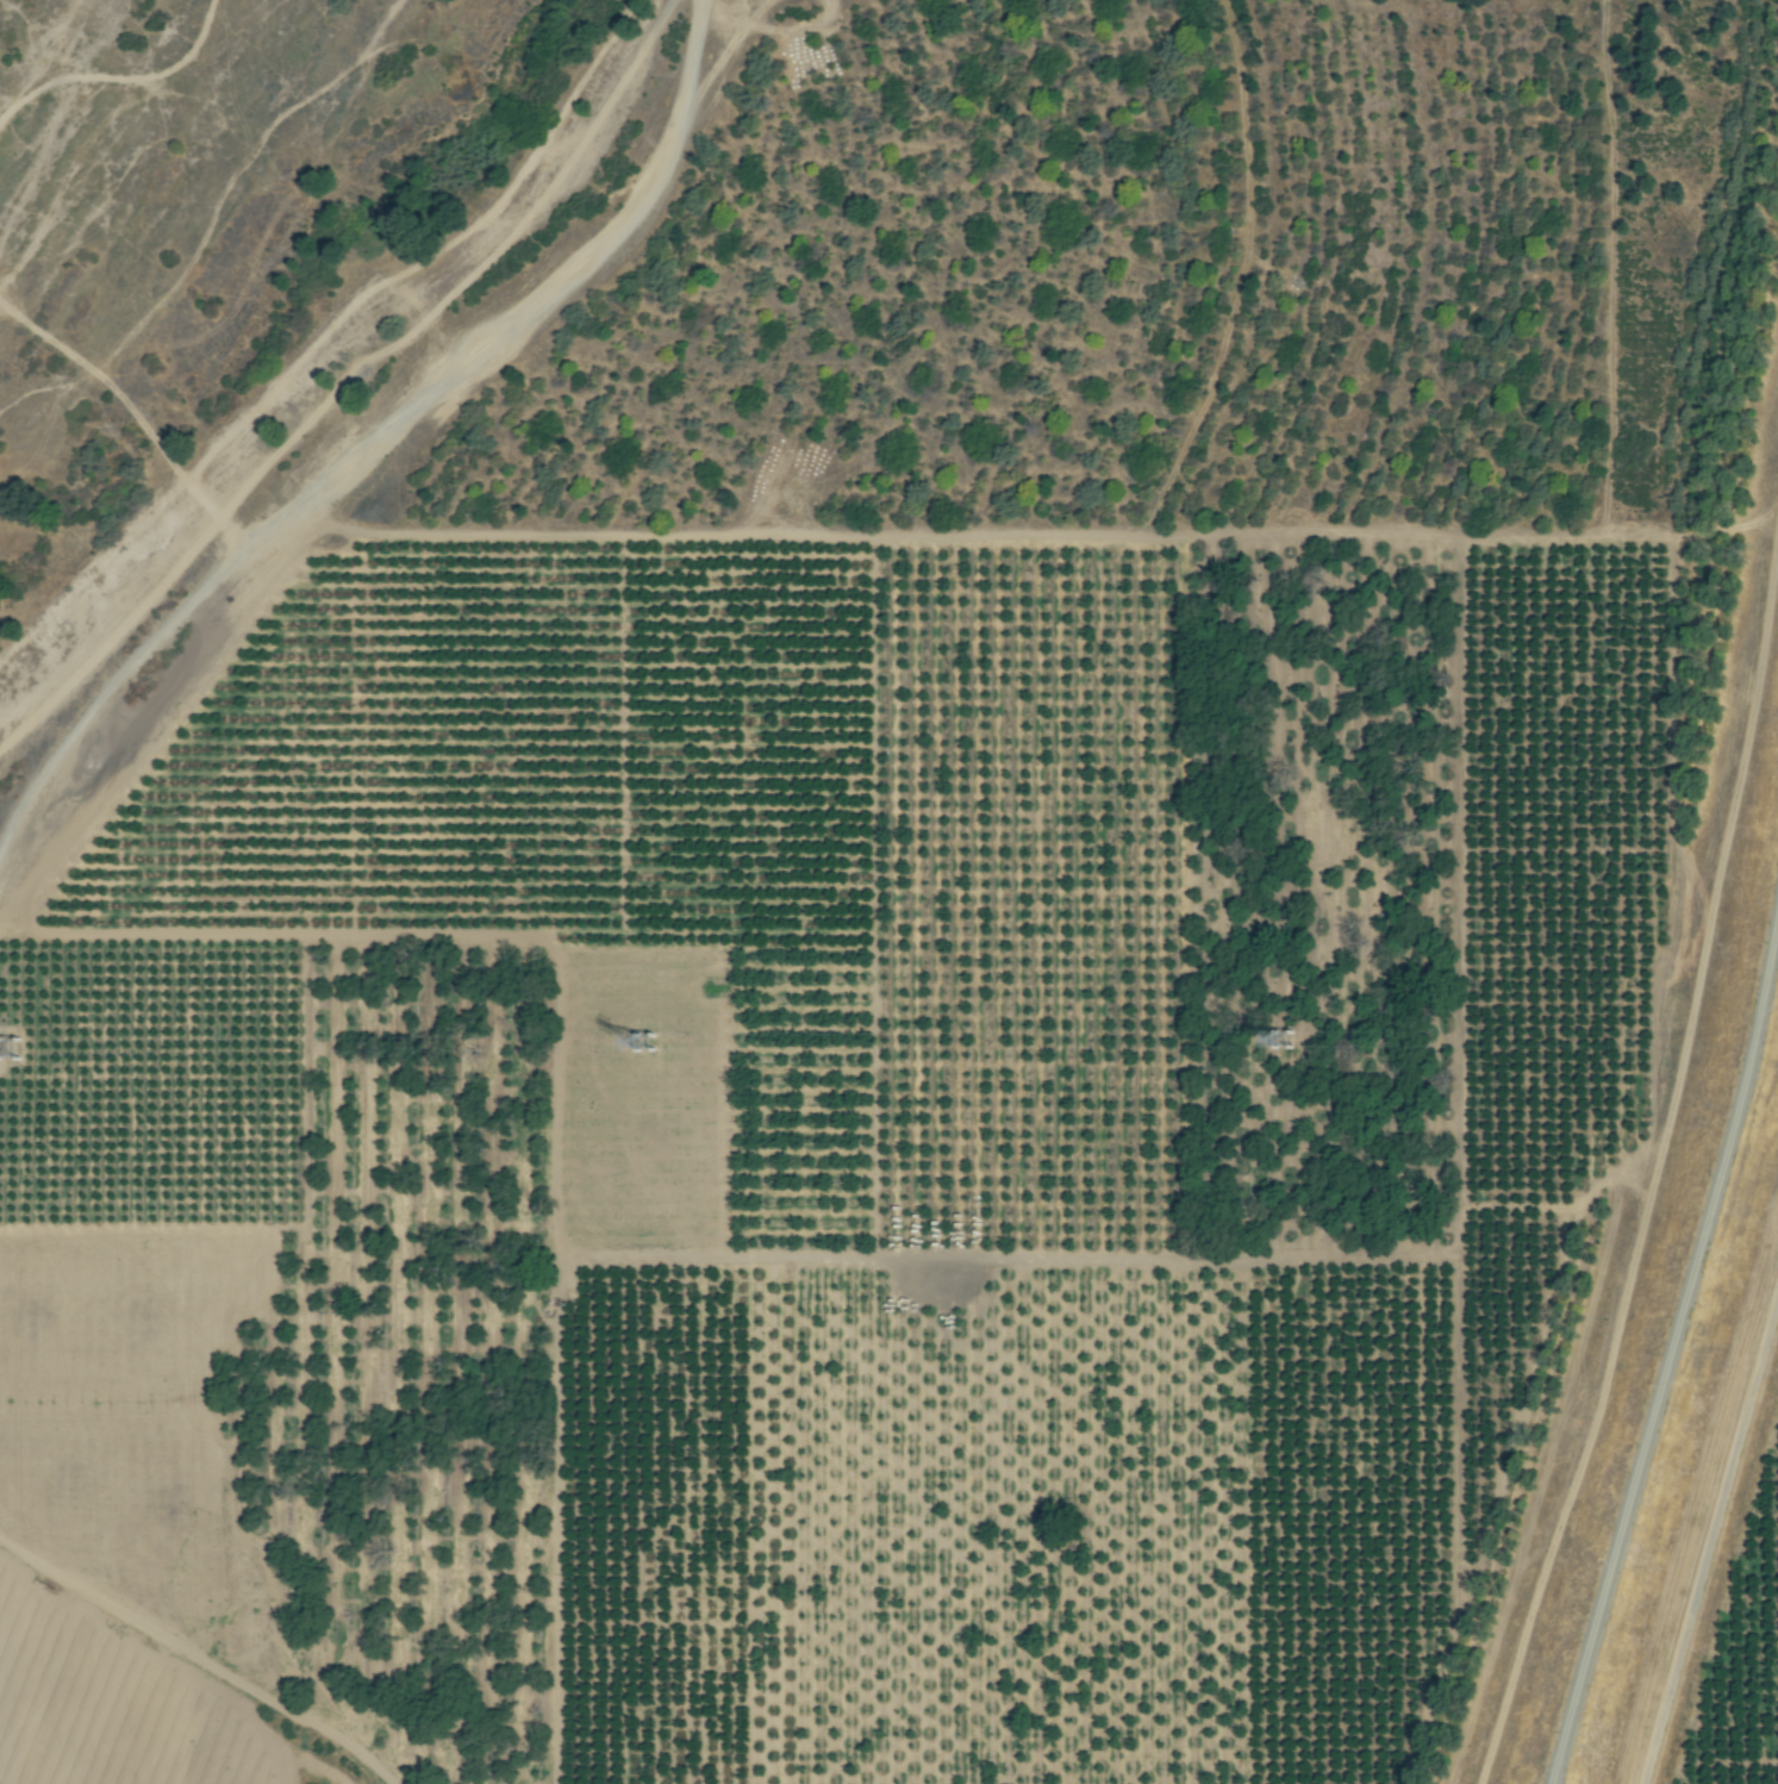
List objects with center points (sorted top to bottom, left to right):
road: (367, 394)
power tower: (1281, 1042)
power tower: (645, 1043)
power tower: (8, 1050)
road: (198, 1659)

